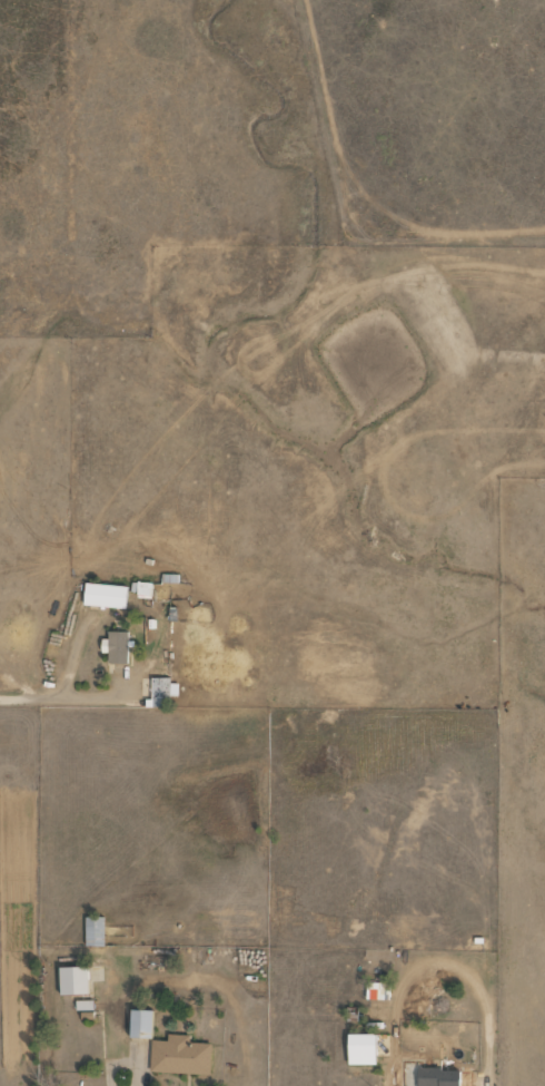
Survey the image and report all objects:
building: (143, 589)
building: (105, 595)
building: (116, 646)
building: (95, 930)
building: (73, 979)
building: (140, 1023)
building: (360, 1048)
building: (180, 1055)
building: (438, 1076)

